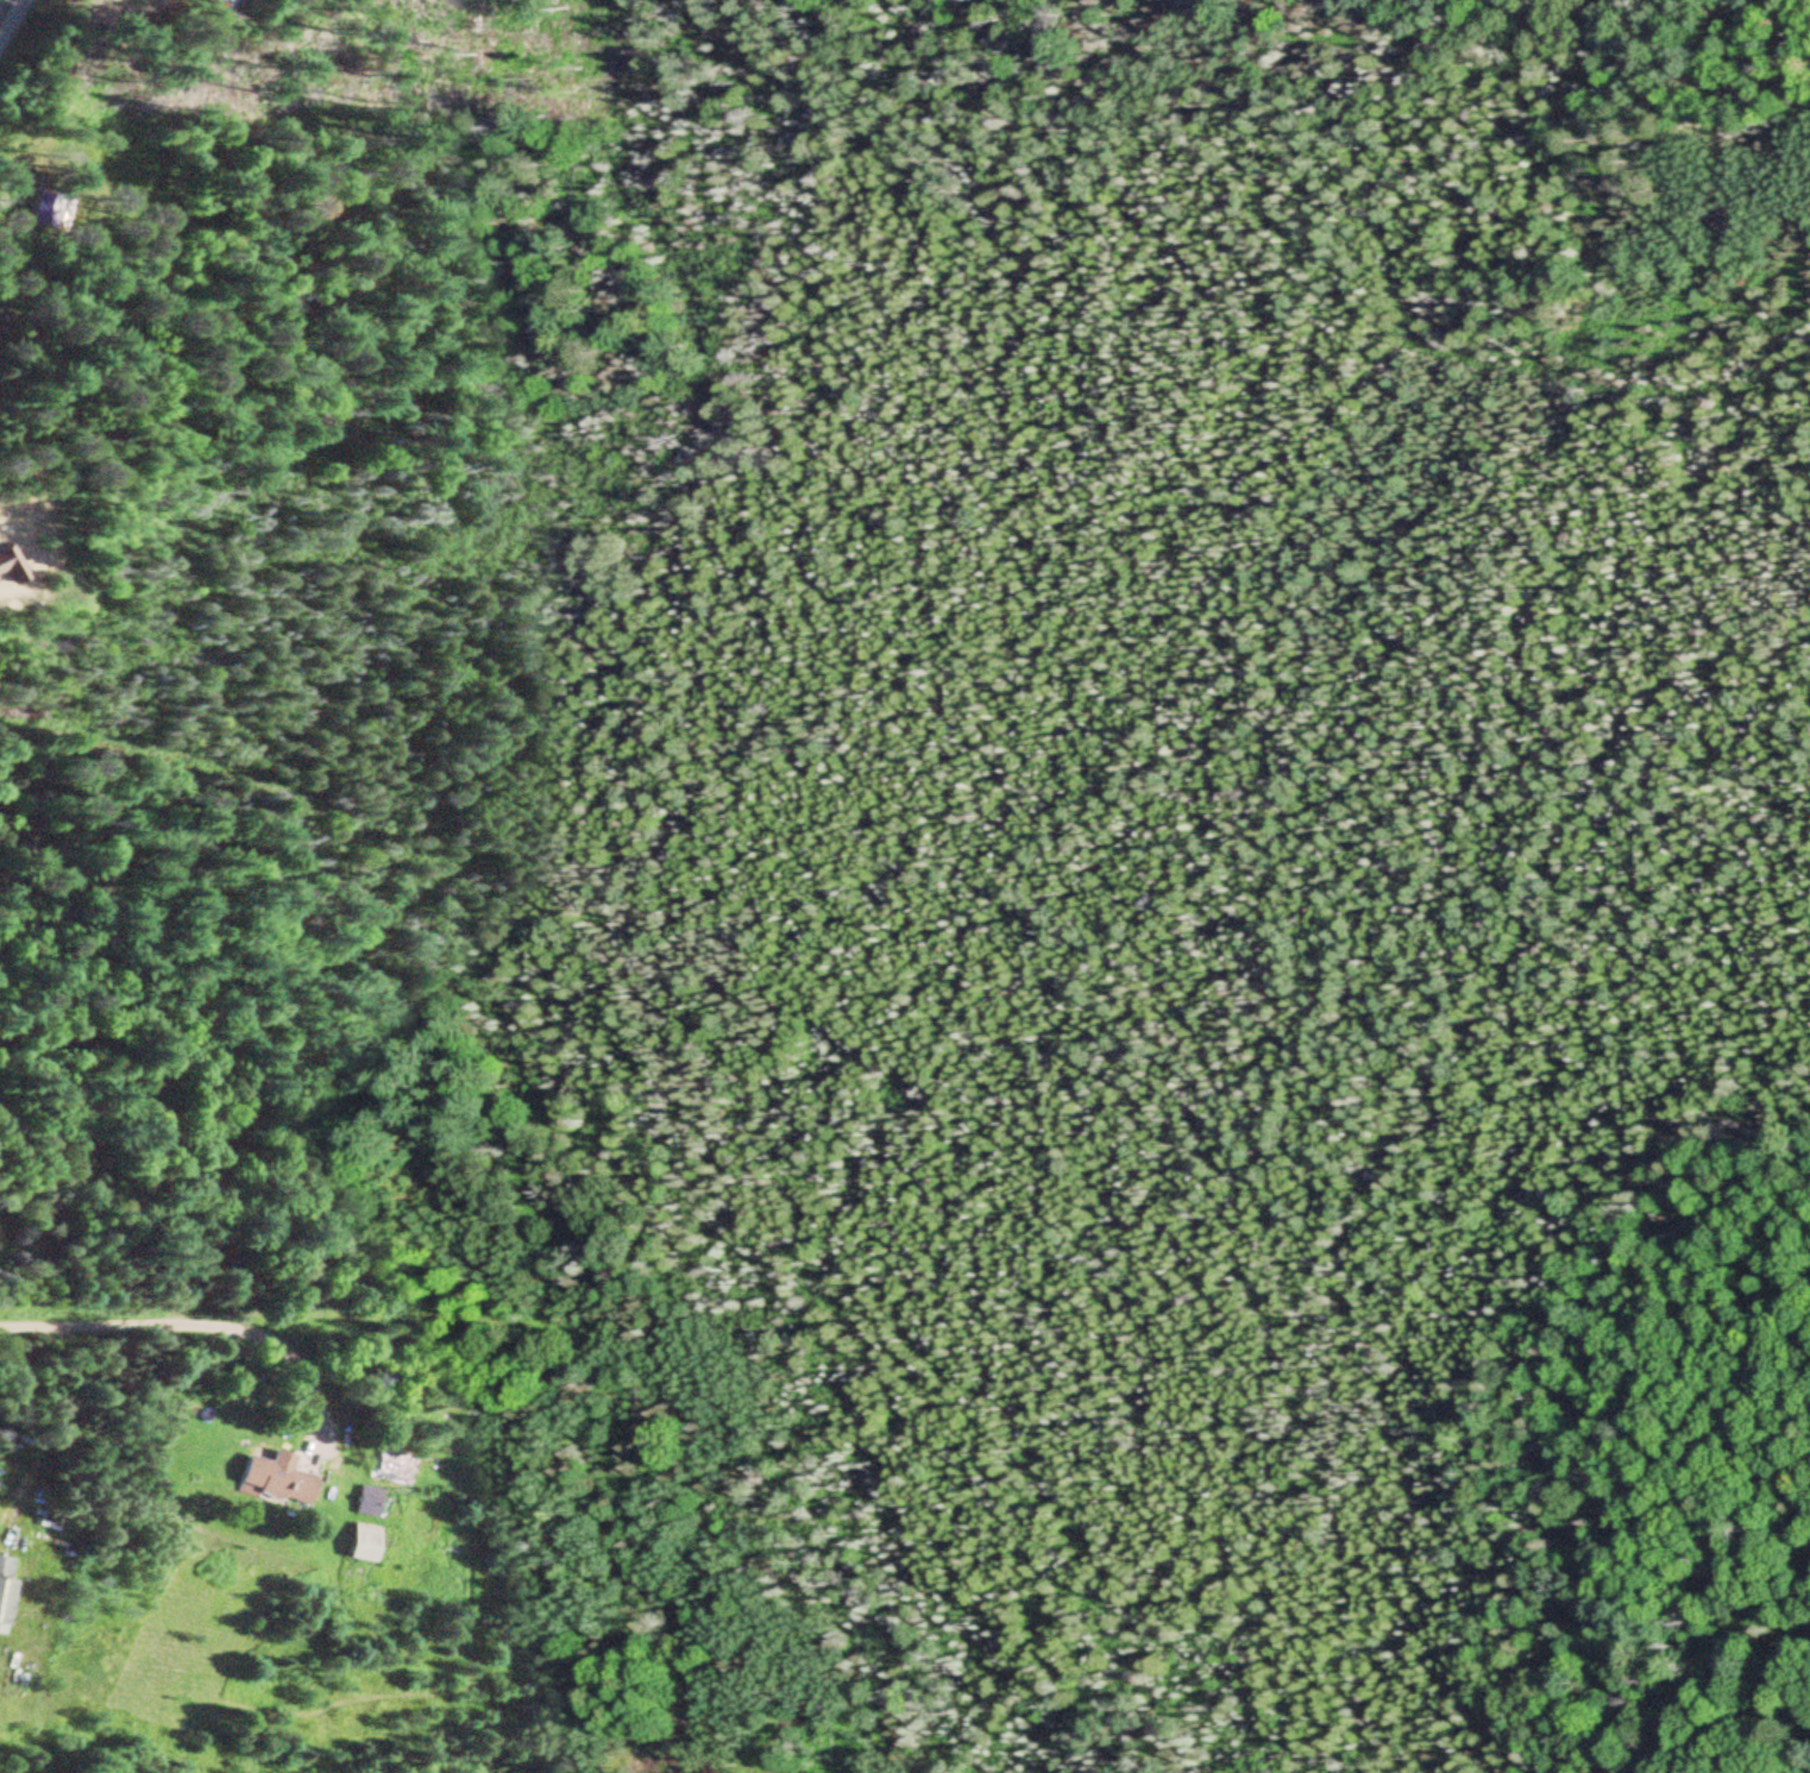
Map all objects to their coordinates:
building: (218, 5)
road: (8, 13)
building: (44, 209)
building: (11, 565)
road: (215, 1324)
road: (45, 1432)
building: (389, 1461)
building: (272, 1476)
building: (364, 1499)
building: (359, 1541)
building: (2, 1584)

